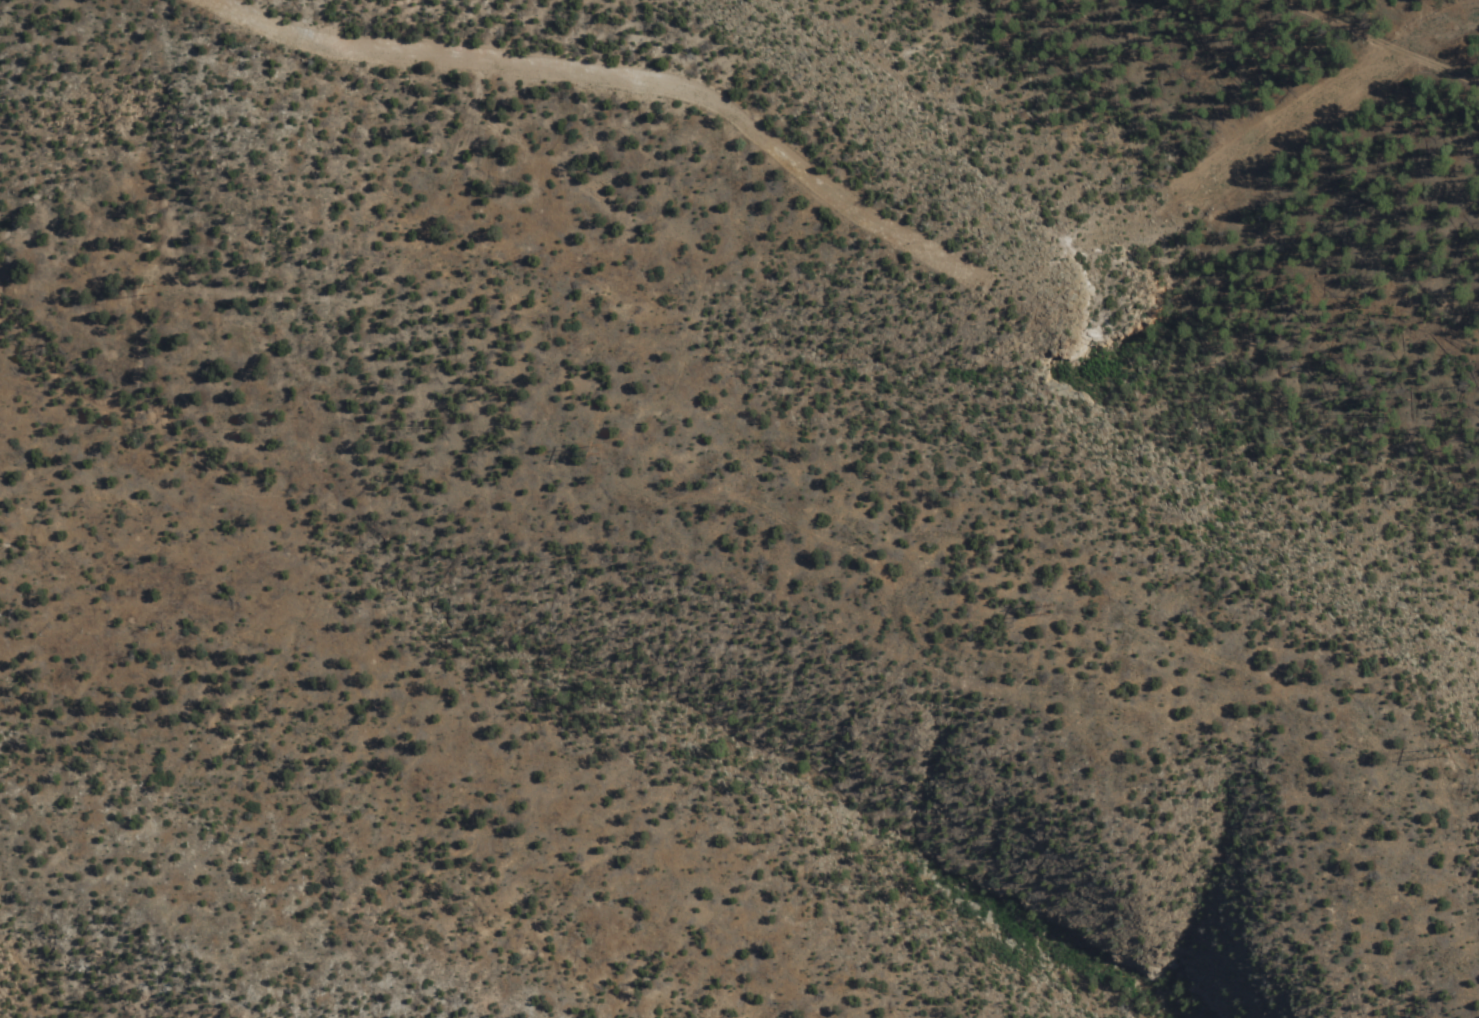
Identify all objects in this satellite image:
road: (1377, 46)
road: (620, 77)

